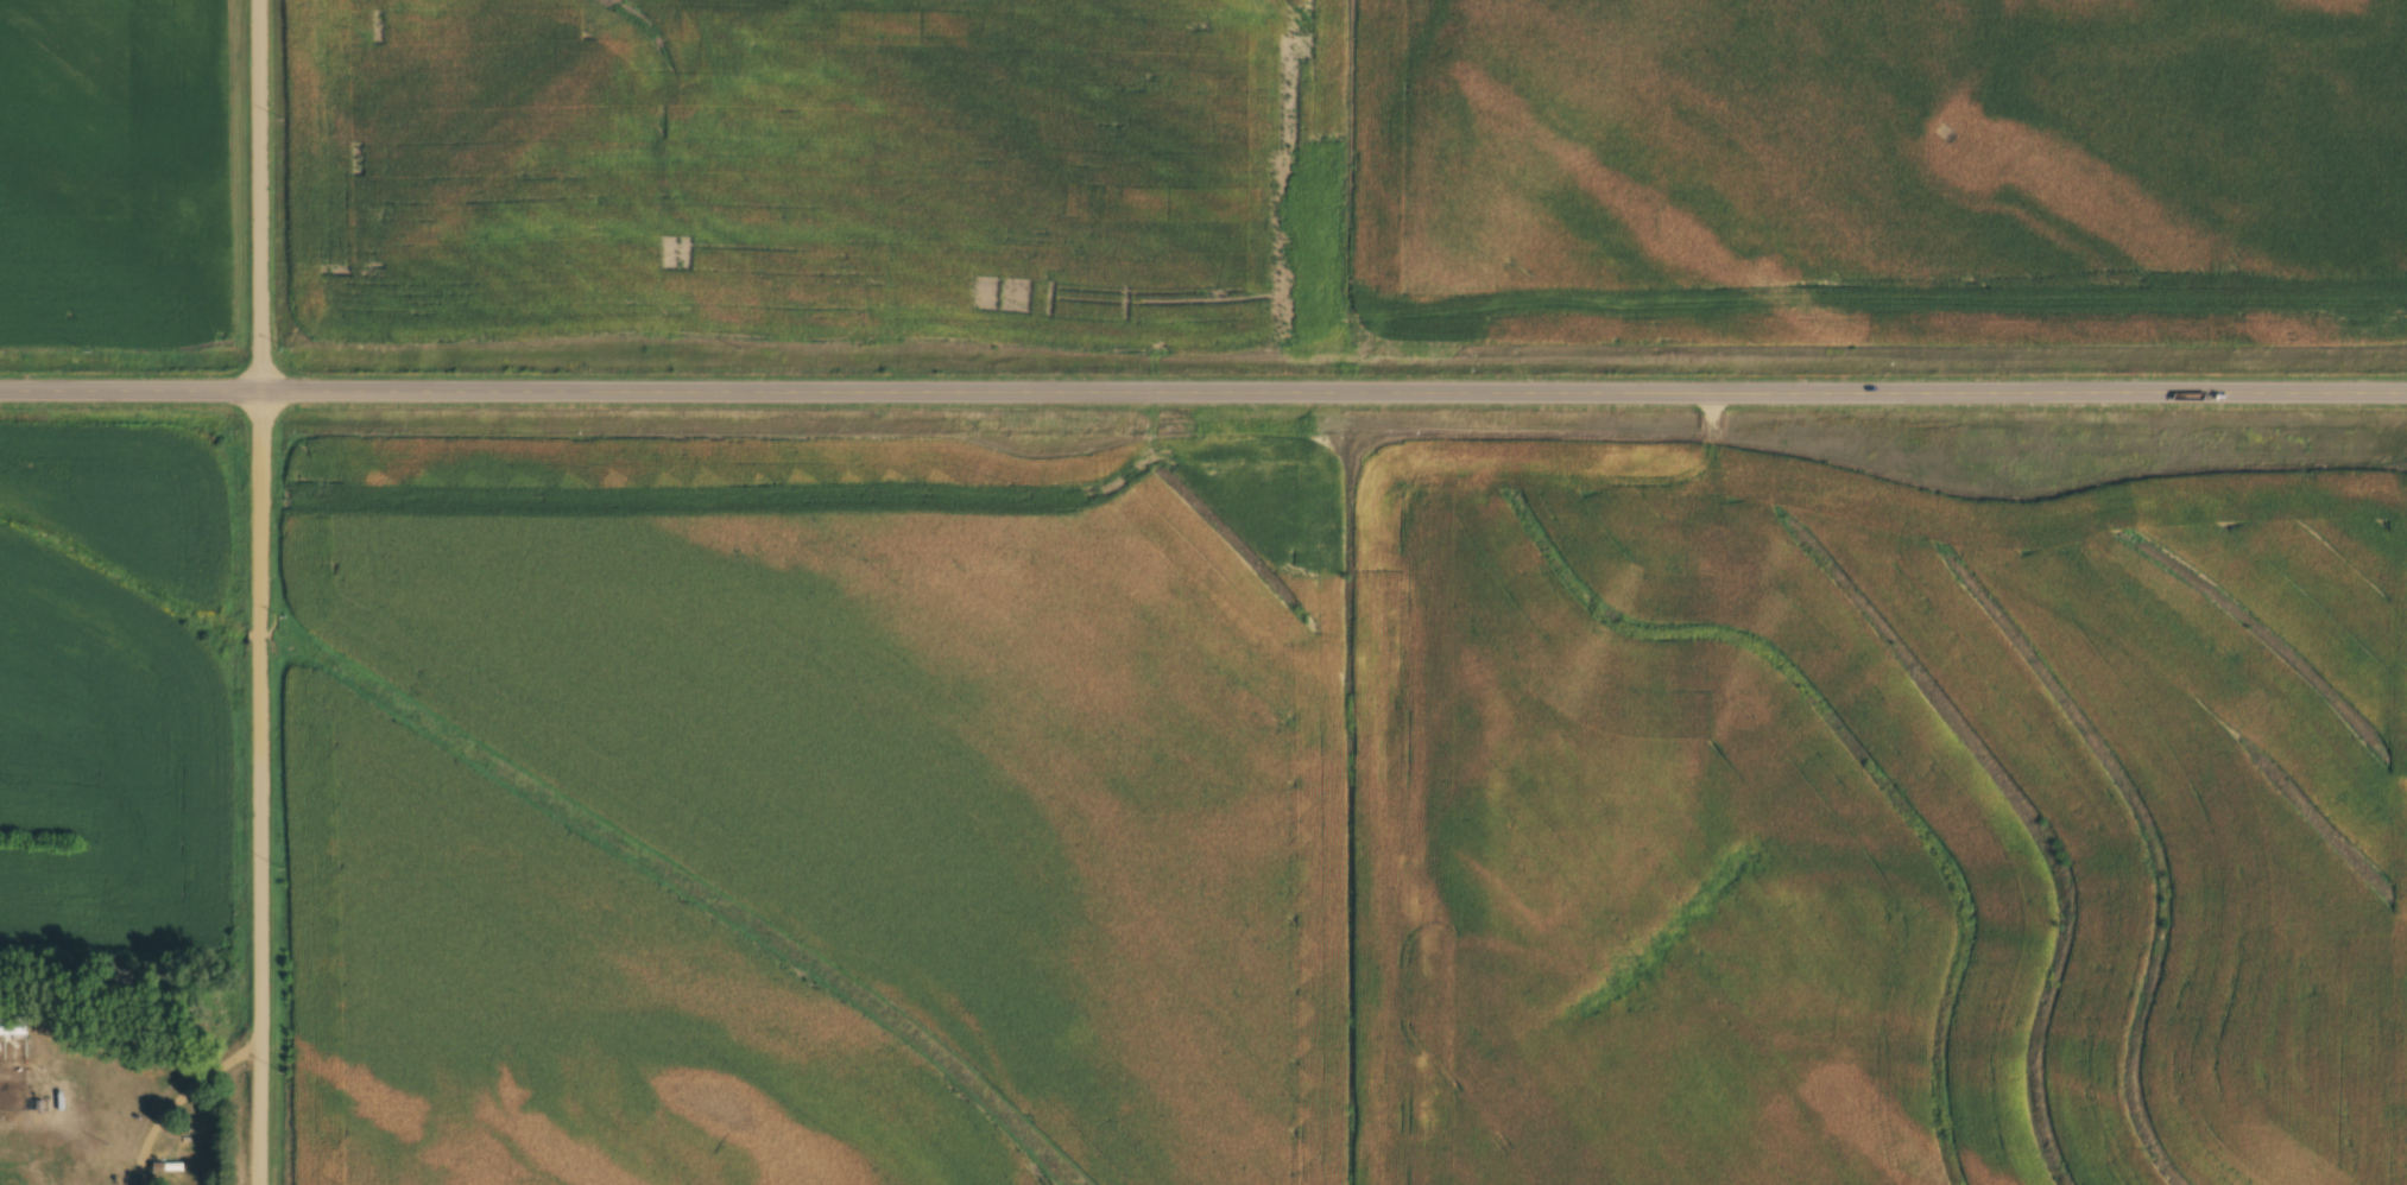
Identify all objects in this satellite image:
road: (1203, 389)
road: (259, 592)
building: (12, 1022)

